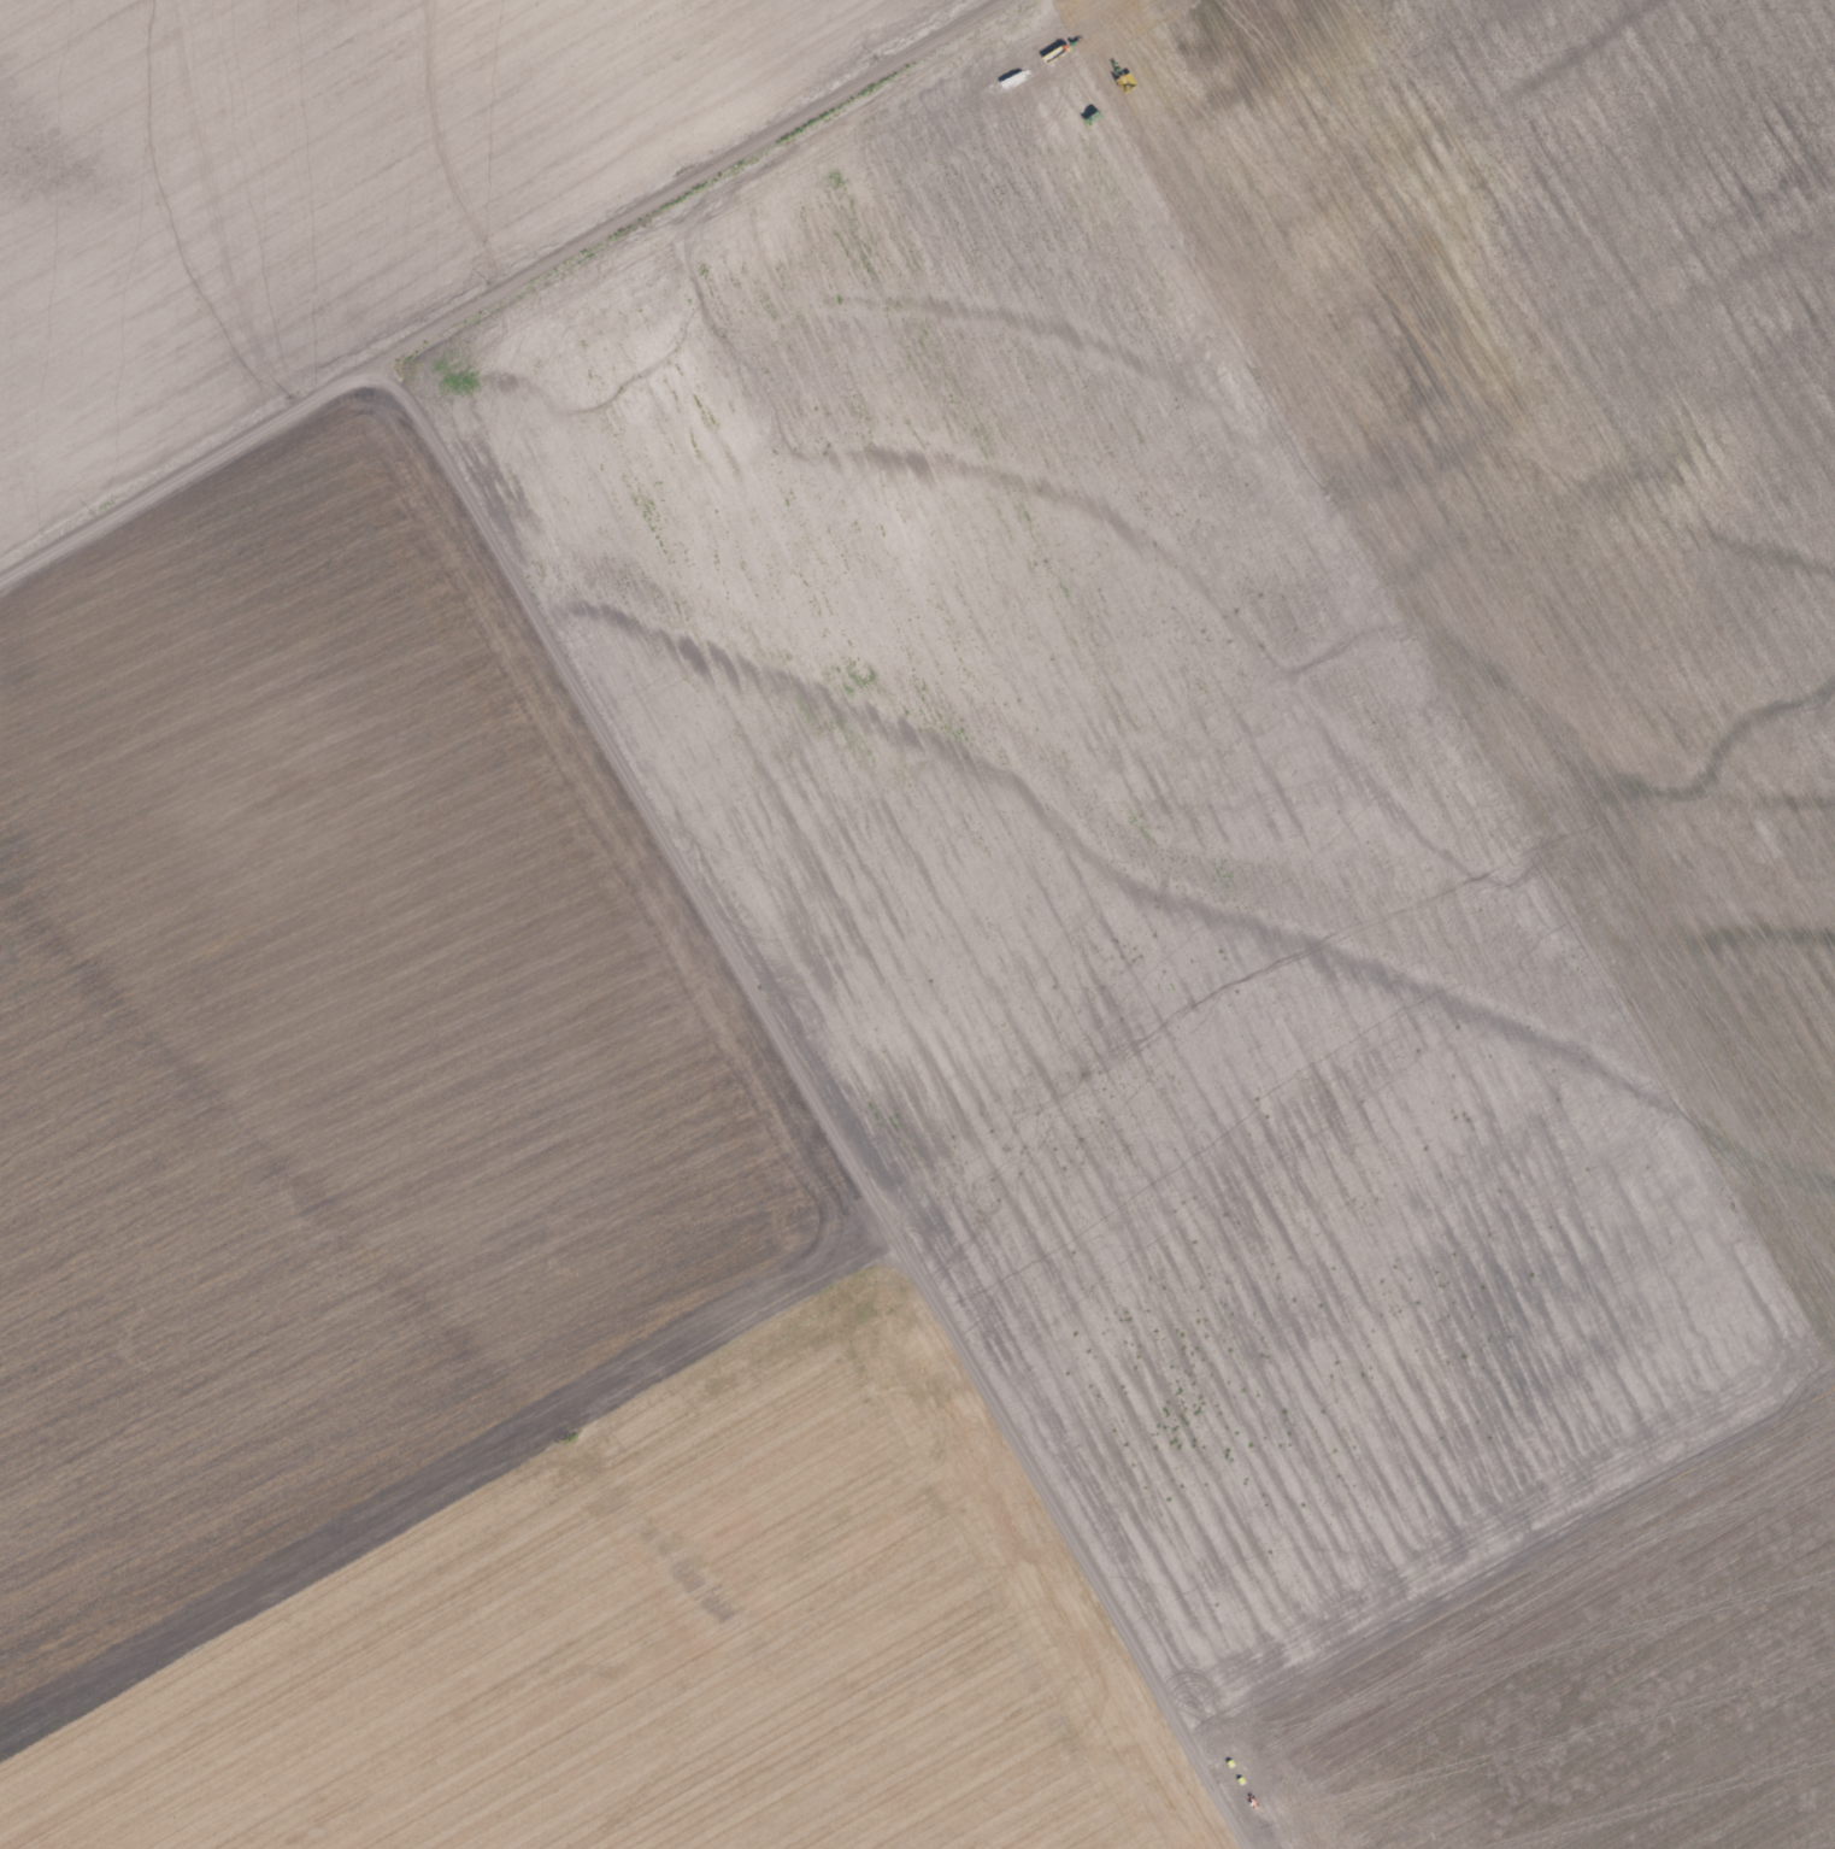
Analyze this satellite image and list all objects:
road: (488, 283)
road: (818, 1096)

